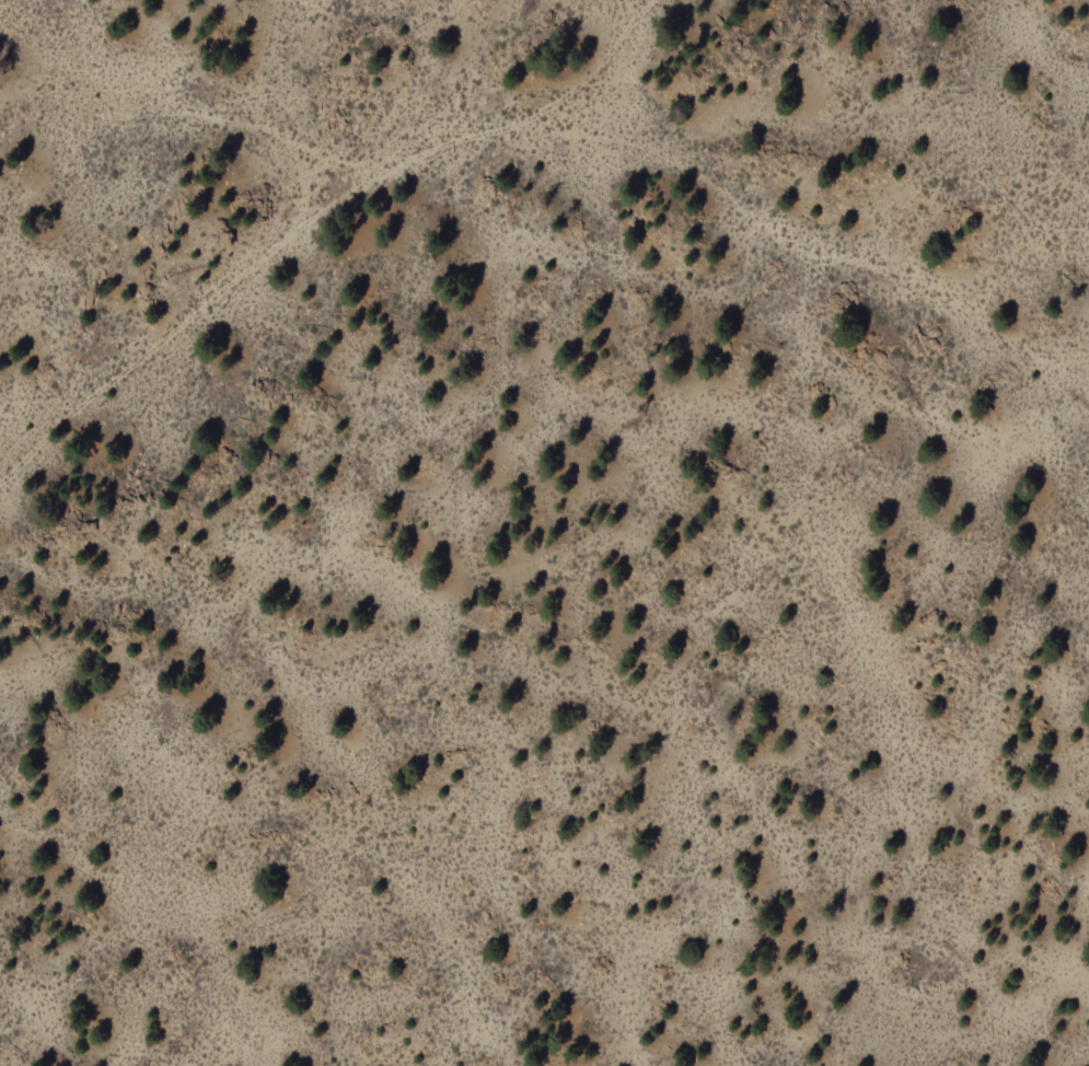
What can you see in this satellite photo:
road: (294, 143)
road: (324, 227)

